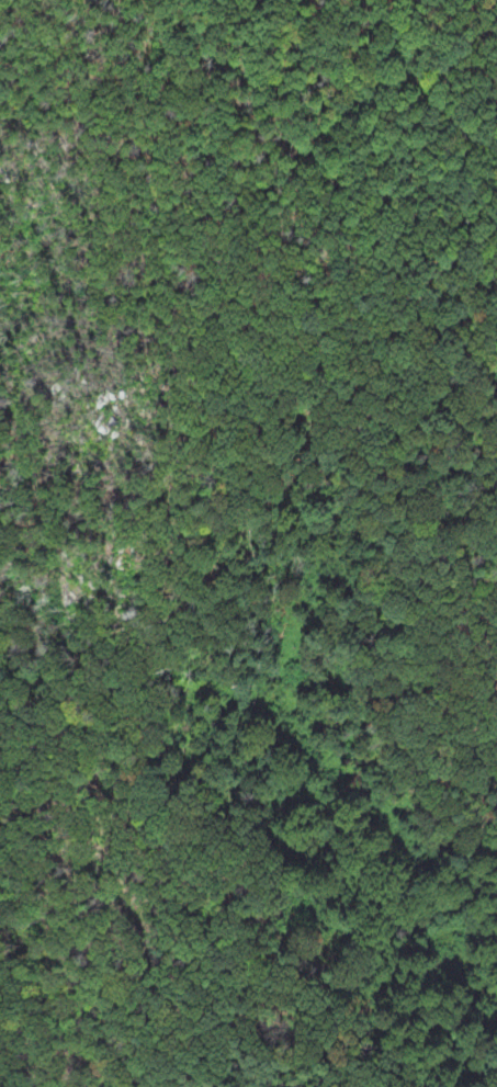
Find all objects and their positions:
road: (118, 898)

